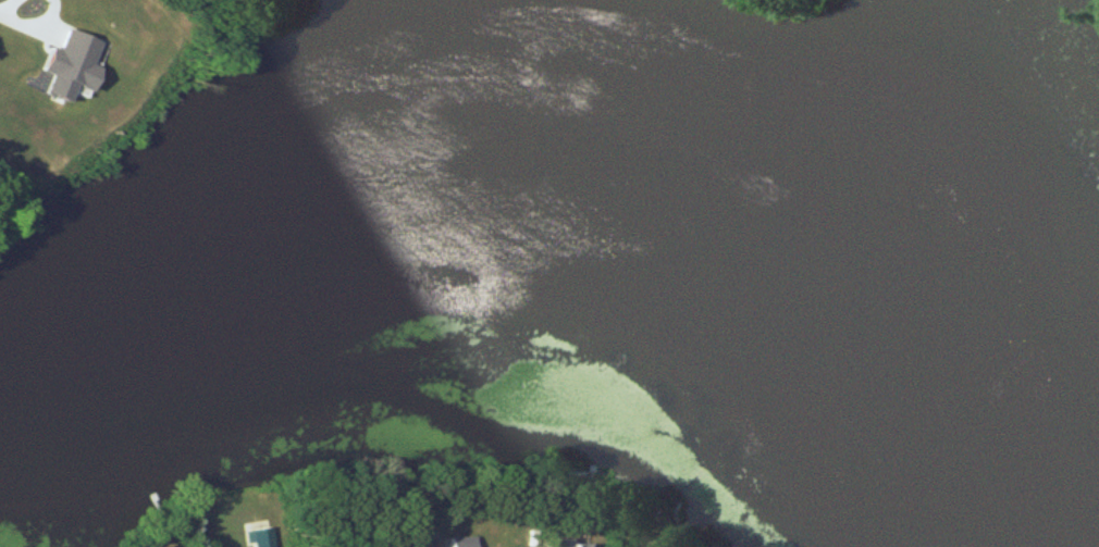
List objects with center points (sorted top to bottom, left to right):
river: (604, 172)

